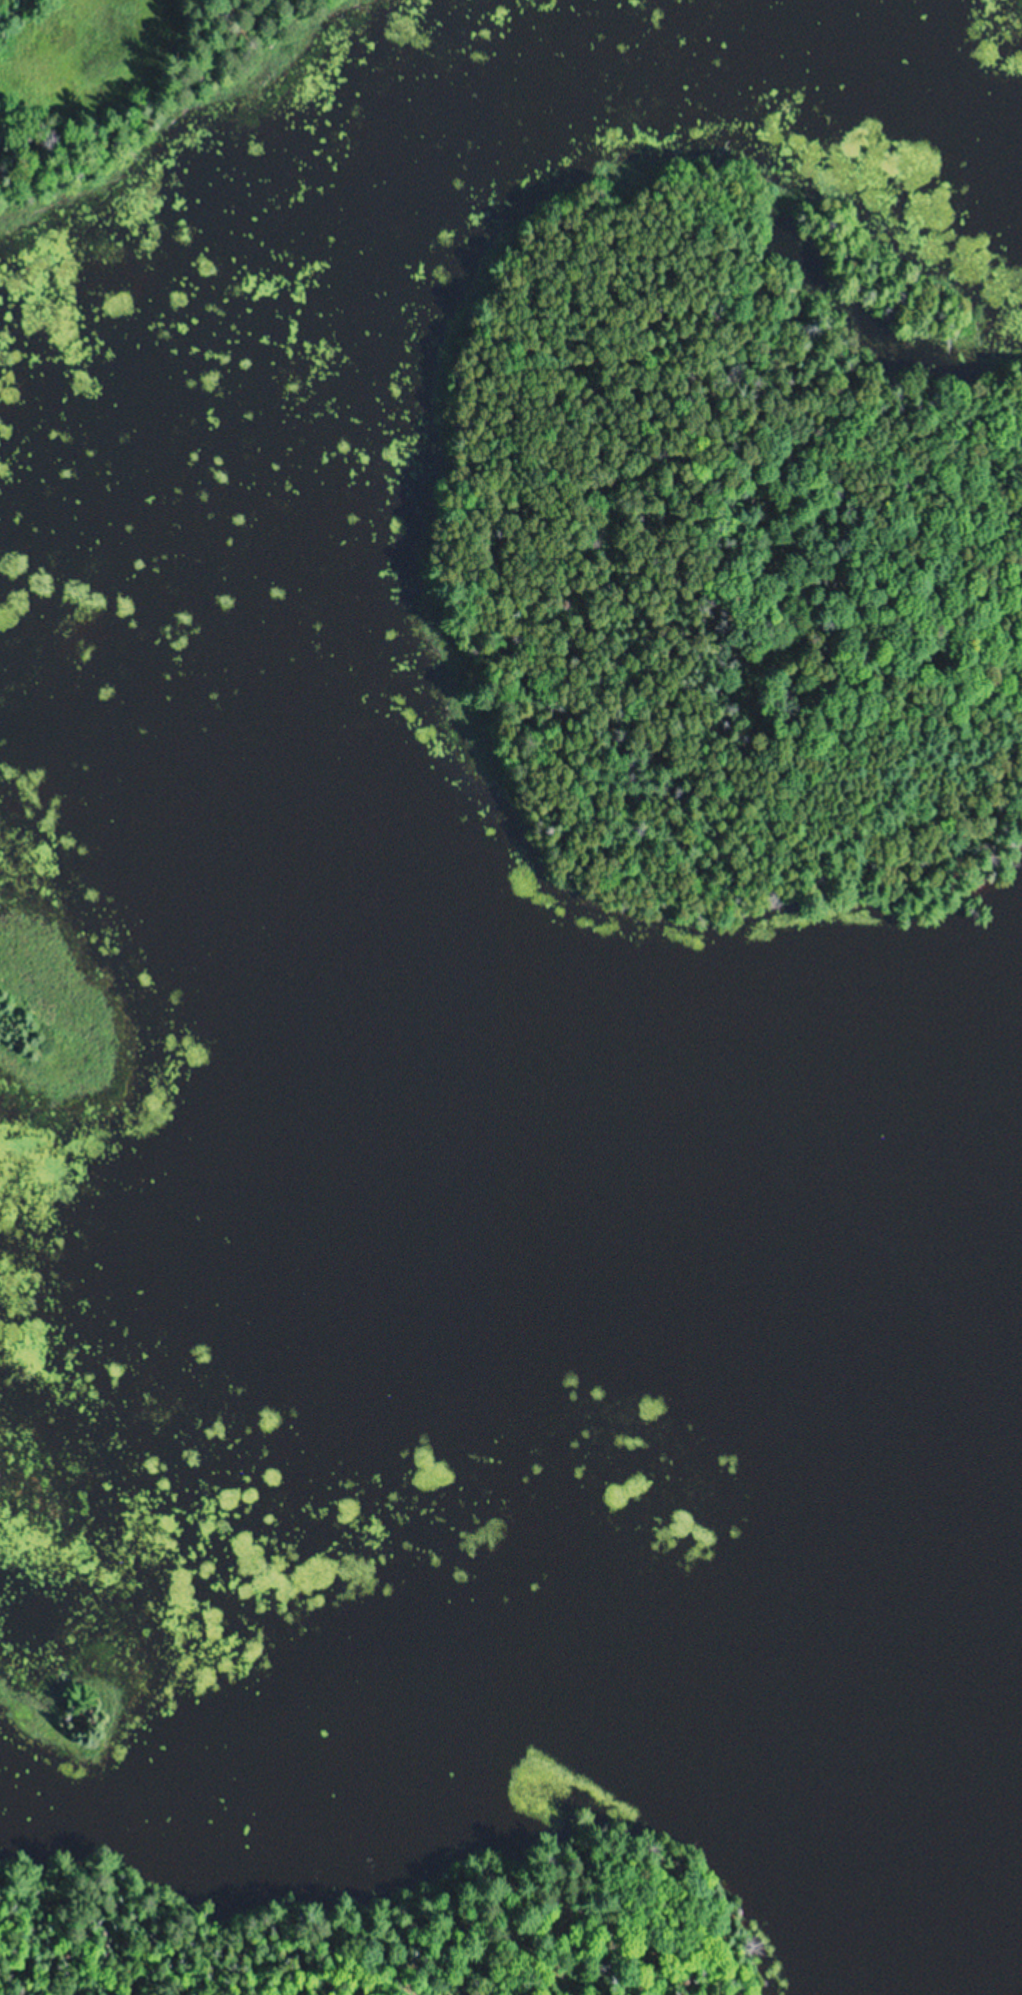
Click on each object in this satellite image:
river: (1017, 1697)

